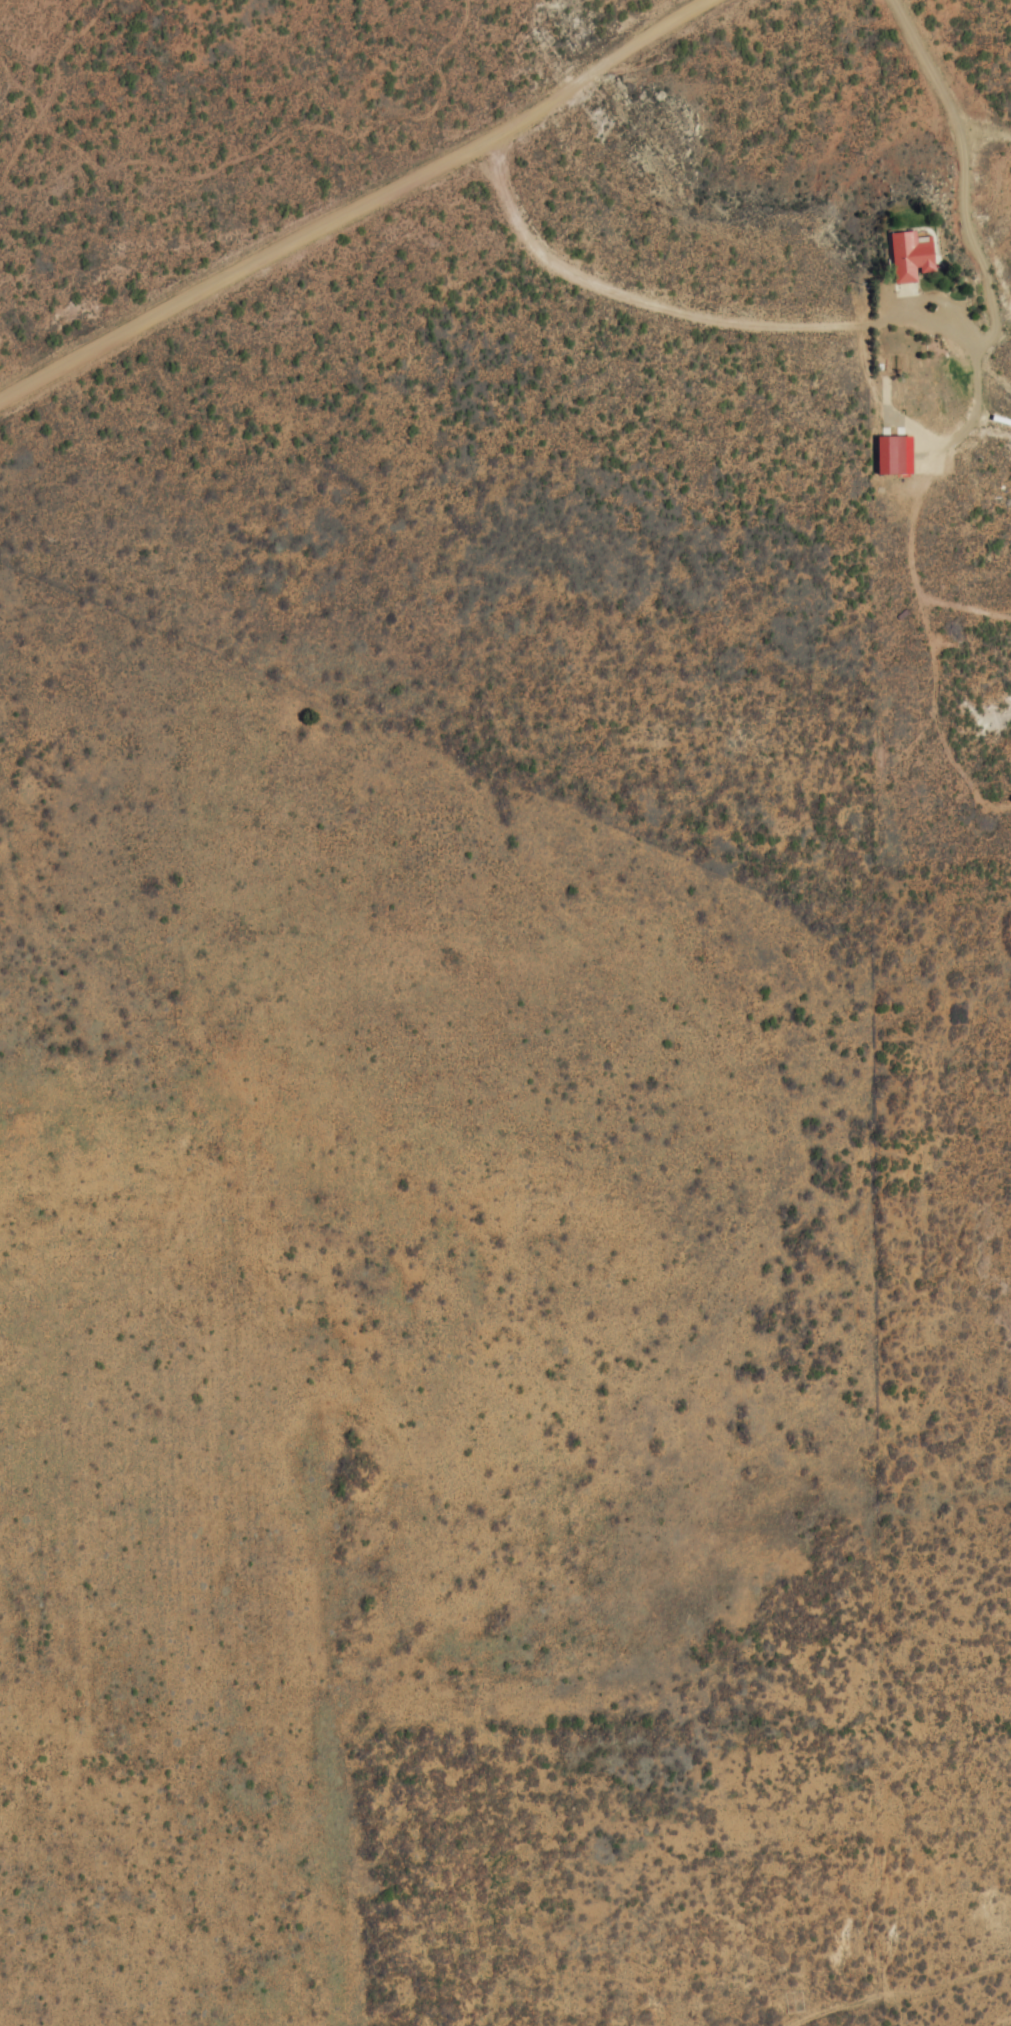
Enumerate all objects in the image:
road: (365, 214)
building: (905, 256)
road: (912, 1990)

